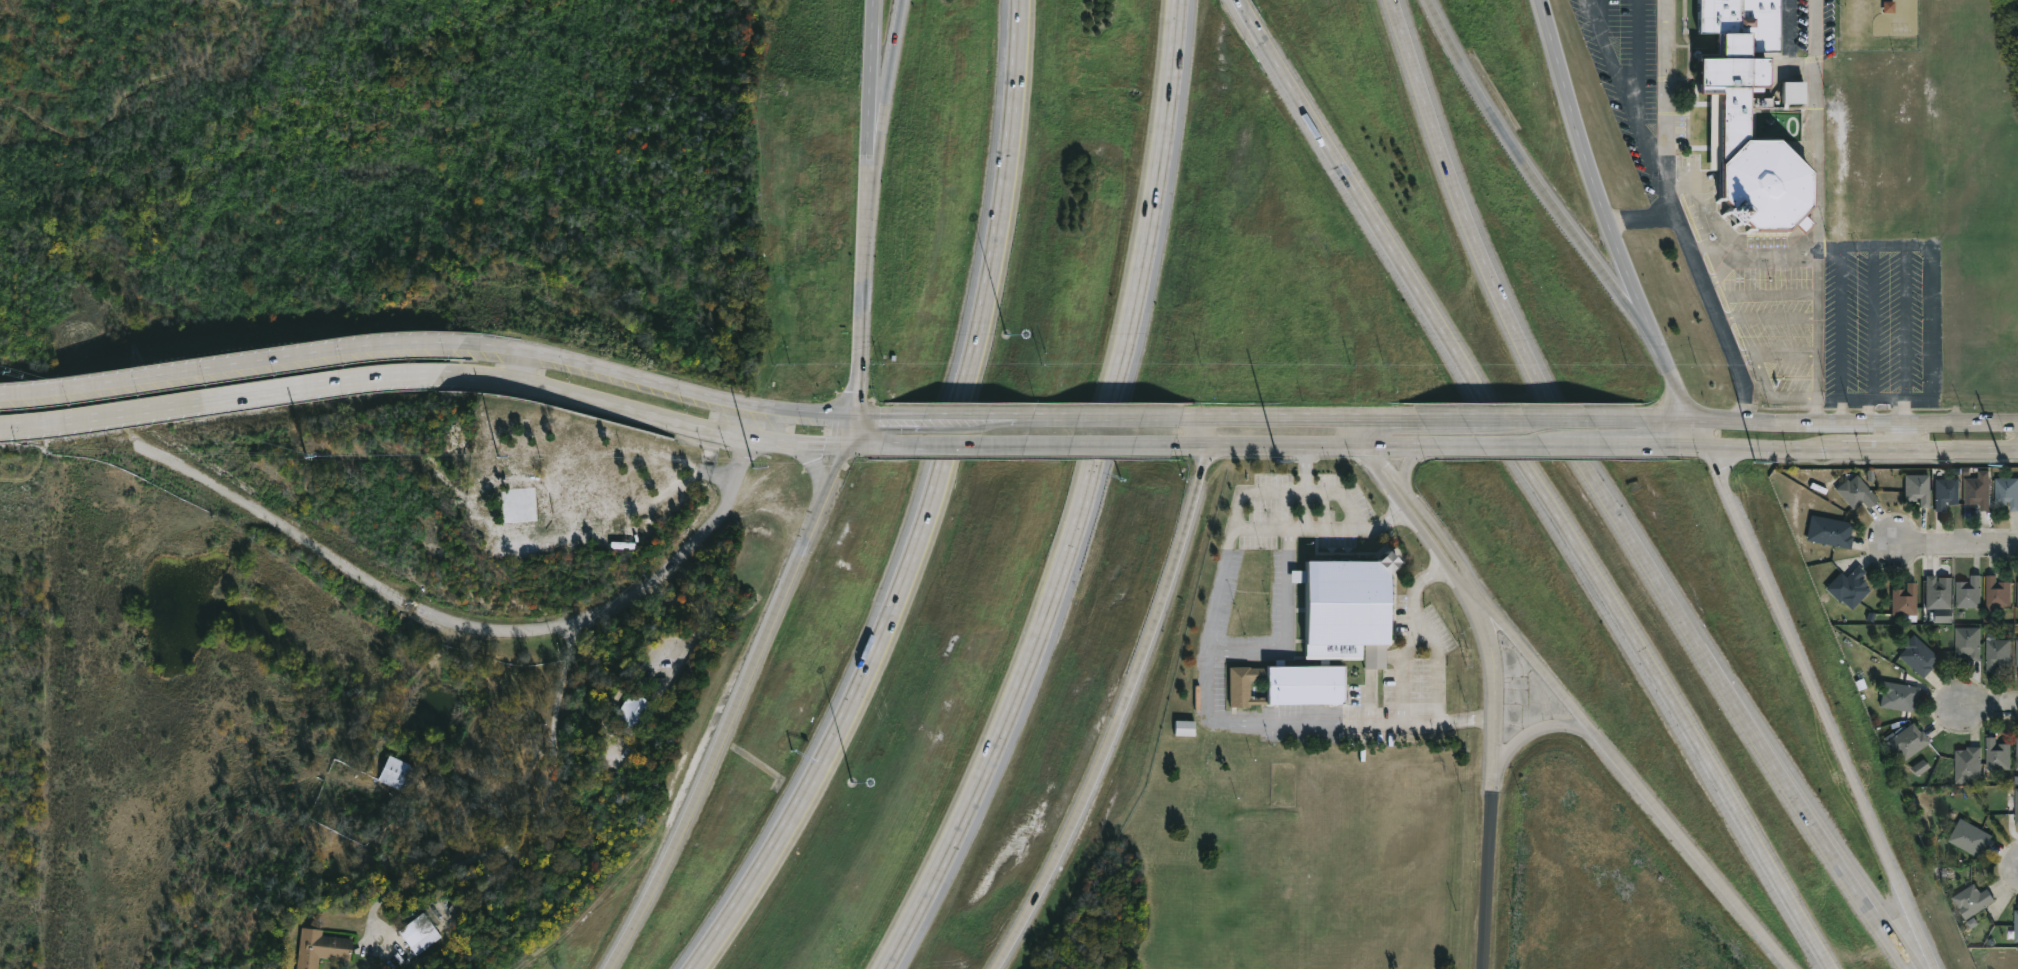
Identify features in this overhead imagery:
road: (1251, 21)
road: (894, 50)
road: (1801, 58)
road: (1665, 72)
building: (1789, 92)
building: (1725, 113)
road: (1640, 125)
road: (1509, 137)
road: (876, 140)
road: (1589, 162)
road: (1668, 162)
road: (1819, 210)
road: (864, 222)
road: (1753, 255)
road: (1703, 283)
road: (1626, 293)
street lamp: (1007, 334)
road: (230, 361)
road: (523, 363)
road: (658, 380)
road: (1680, 382)
road: (1937, 389)
road: (221, 393)
road: (643, 409)
road: (1903, 410)
road: (872, 415)
road: (954, 415)
road: (1099, 416)
road: (1265, 417)
road: (1387, 420)
road: (1470, 420)
road: (1580, 420)
road: (1830, 421)
road: (1901, 436)
road: (1549, 442)
road: (863, 444)
road: (1027, 444)
road: (1306, 444)
road: (1837, 450)
power tower: (315, 459)
road: (1407, 461)
road: (819, 464)
road: (1304, 468)
building: (1916, 488)
building: (1854, 492)
building: (1945, 492)
building: (1976, 492)
building: (2006, 492)
road: (1084, 500)
road: (1414, 502)
road: (1552, 504)
road: (1613, 504)
road: (1402, 505)
road: (928, 509)
road: (1326, 526)
road: (1262, 527)
building: (1833, 532)
road: (1953, 543)
road: (345, 565)
building: (1851, 587)
building: (1936, 591)
building: (1355, 593)
building: (1967, 593)
building: (1996, 593)
building: (2017, 594)
building: (1903, 599)
road: (1289, 608)
road: (1410, 636)
building: (1966, 643)
building: (1996, 653)
building: (2016, 653)
building: (1916, 654)
road: (1206, 656)
road: (1439, 659)
building: (1289, 684)
park: (22, 690)
building: (1898, 695)
road: (559, 698)
road: (1369, 698)
park: (15, 700)
road: (1124, 701)
road: (1989, 705)
road: (1825, 707)
road: (731, 710)
building: (632, 712)
road: (1540, 729)
building: (1904, 740)
building: (2017, 754)
building: (1997, 755)
building: (1966, 764)
building: (398, 772)
road: (1495, 772)
road: (1630, 774)
street lamp: (853, 782)
building: (2016, 806)
building: (1968, 837)
building: (1971, 899)
building: (2015, 926)
building: (421, 934)
building: (323, 949)

